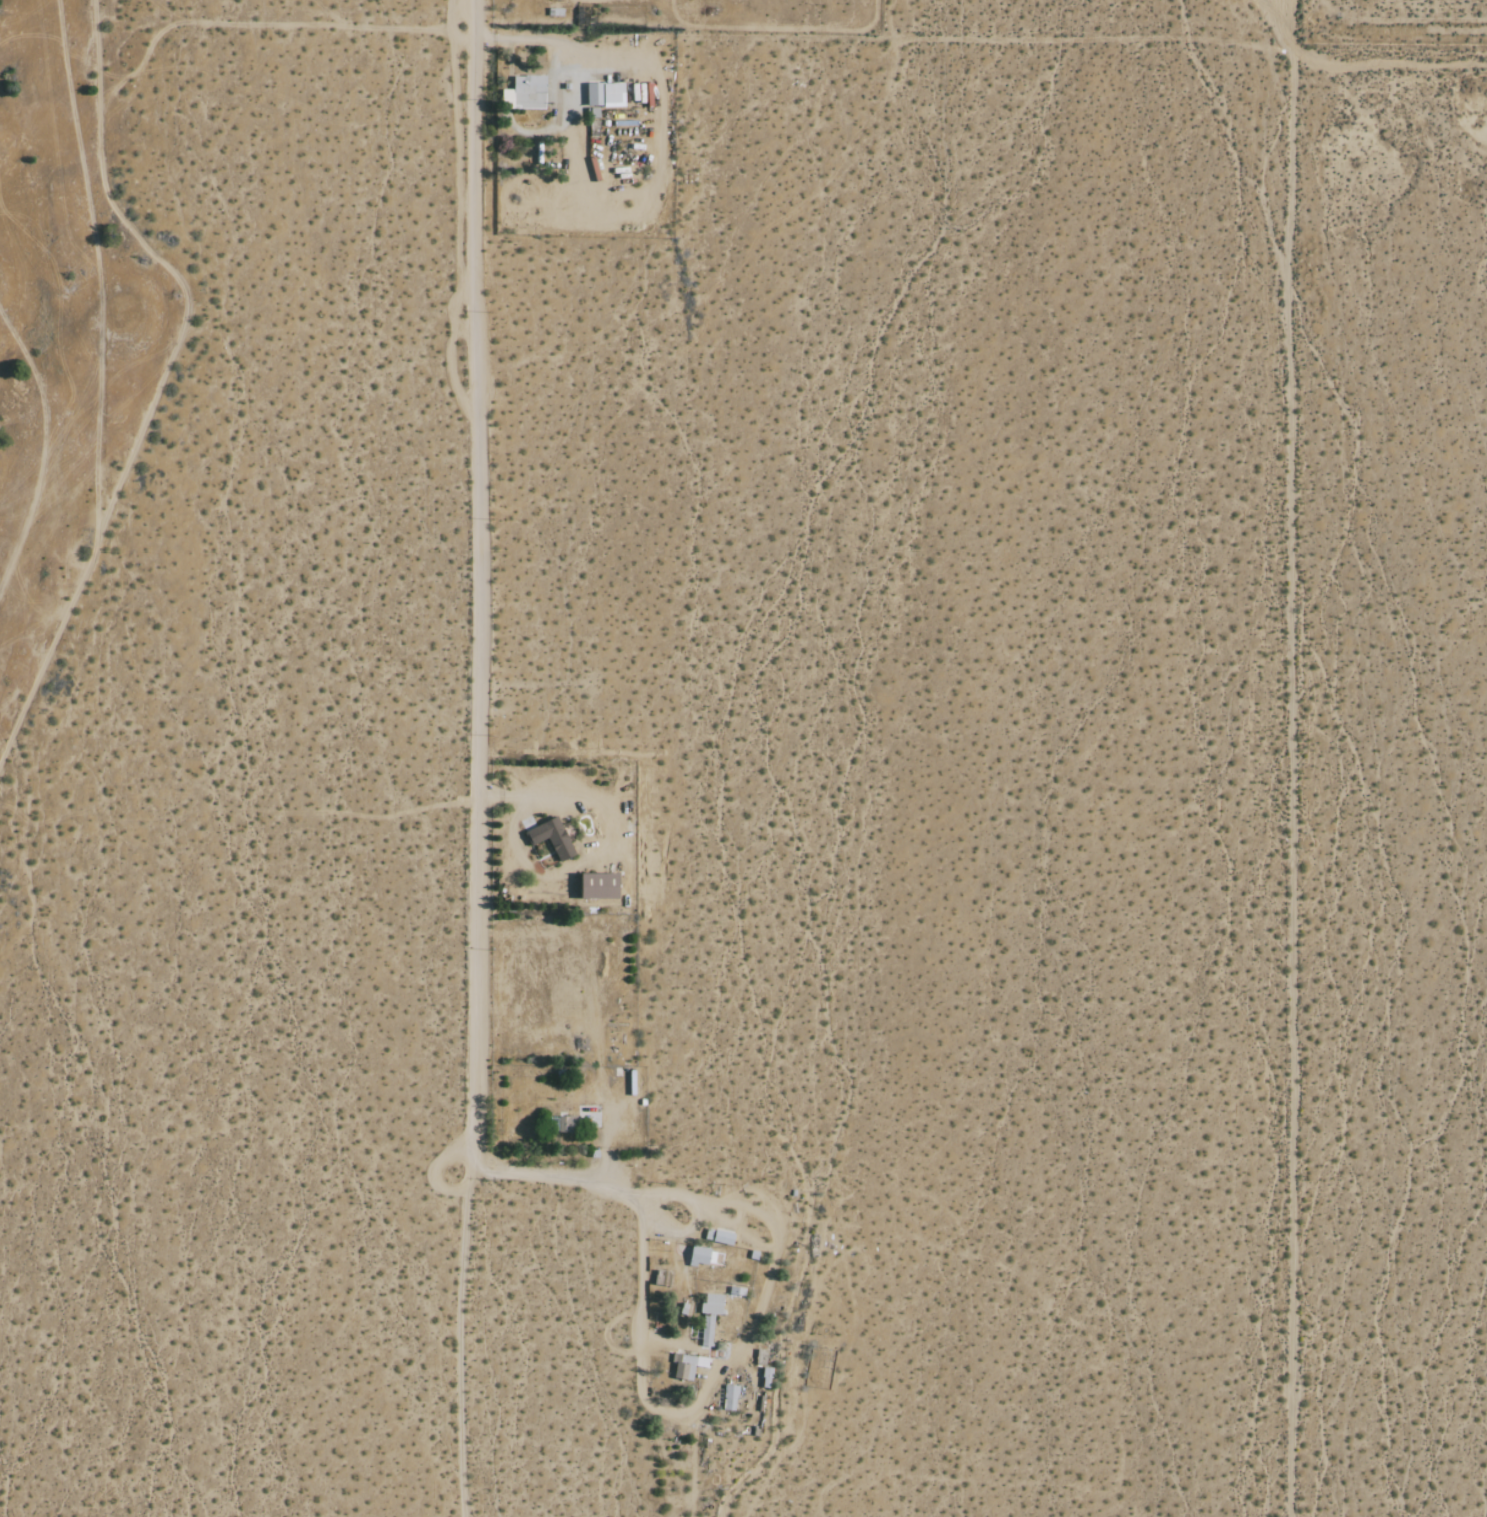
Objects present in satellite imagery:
road: (1481, 26)
road: (972, 33)
road: (545, 41)
building: (605, 95)
road: (483, 758)
road: (1296, 758)
building: (552, 837)
road: (588, 853)
building: (600, 886)
road: (629, 1188)
building: (723, 1237)
building: (704, 1256)
building: (709, 1316)
building: (687, 1366)
building: (729, 1398)

